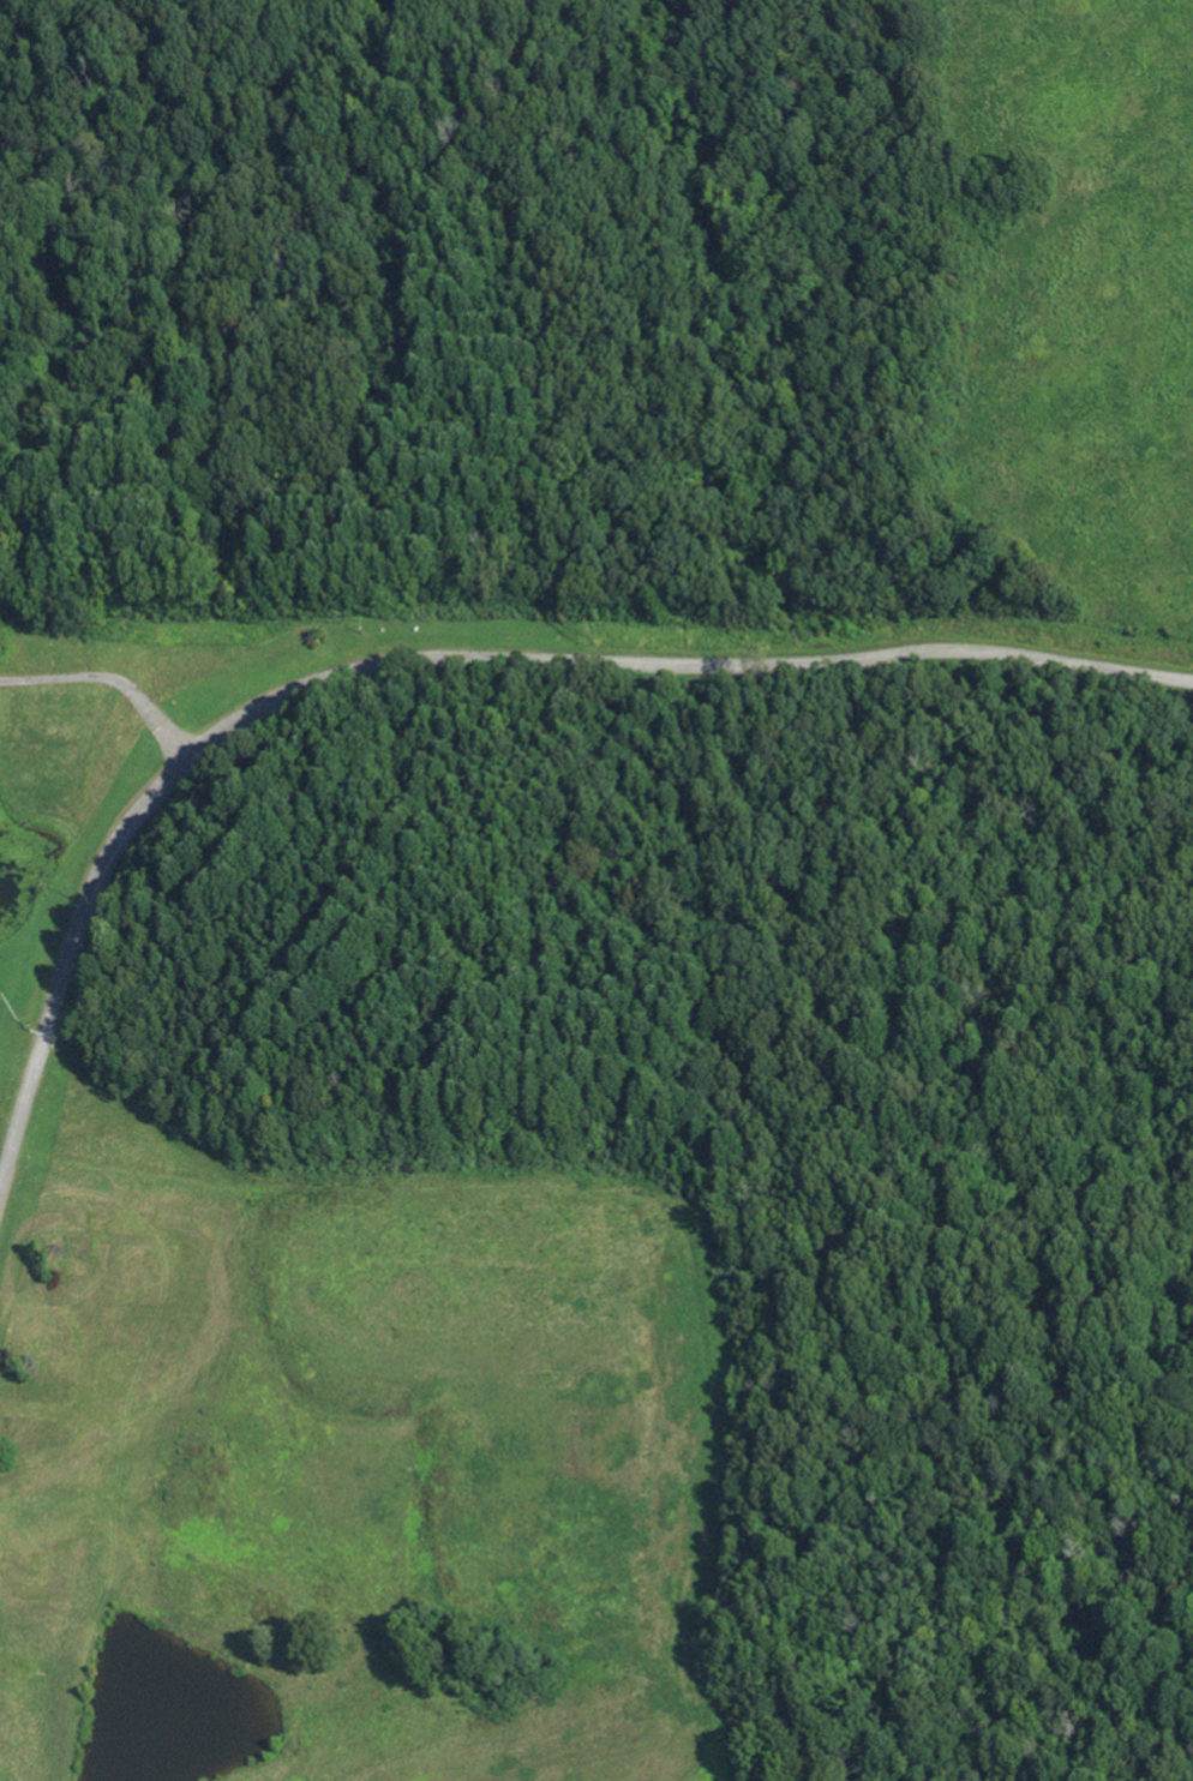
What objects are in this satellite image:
road: (675, 666)
road: (108, 682)
road: (61, 952)

